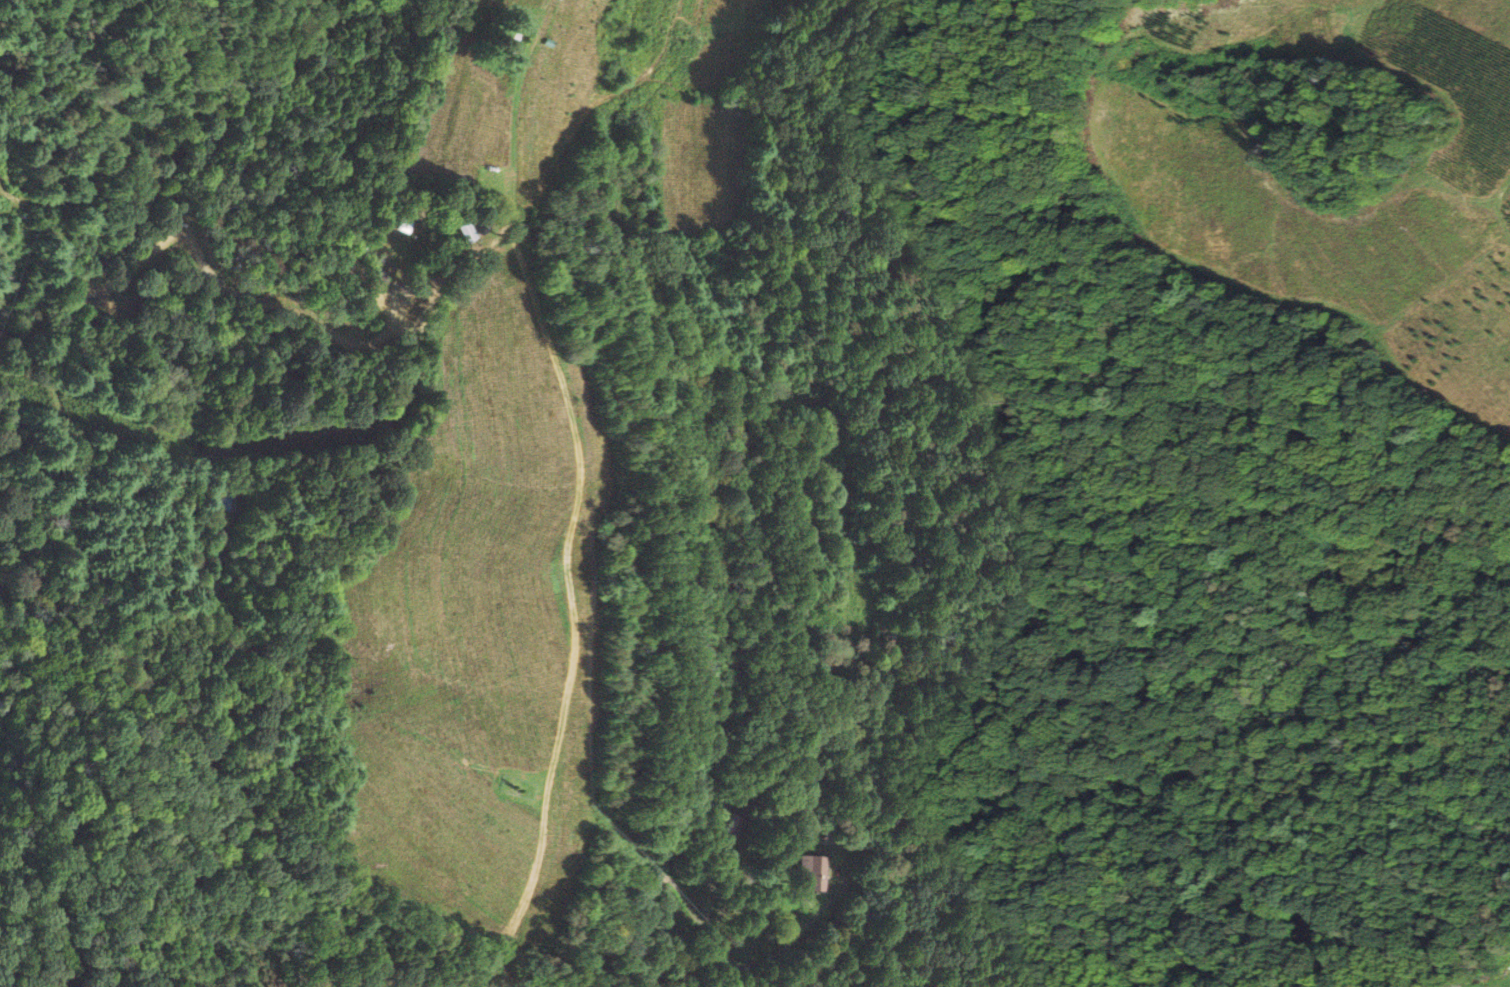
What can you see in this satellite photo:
building: (493, 40)
building: (215, 498)
road: (3, 558)
road: (267, 823)
building: (799, 874)

